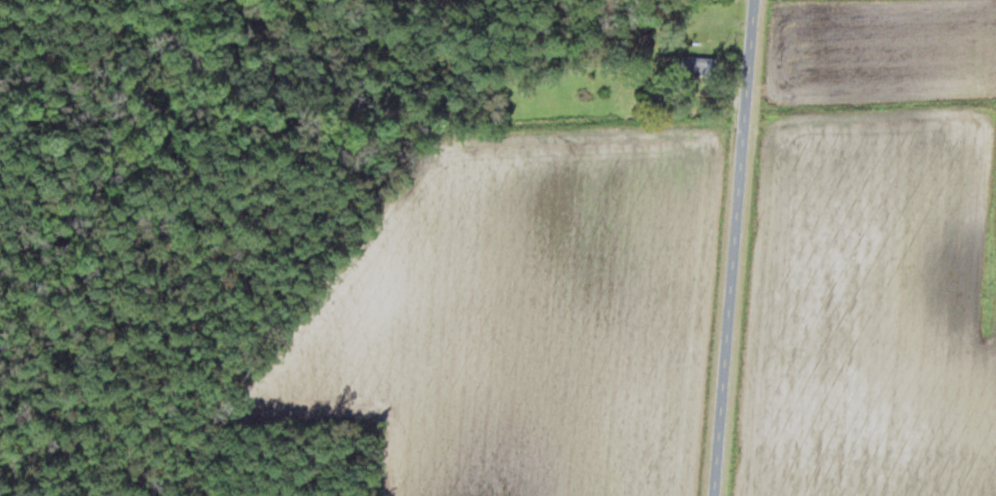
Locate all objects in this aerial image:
building: (697, 64)
road: (733, 248)

